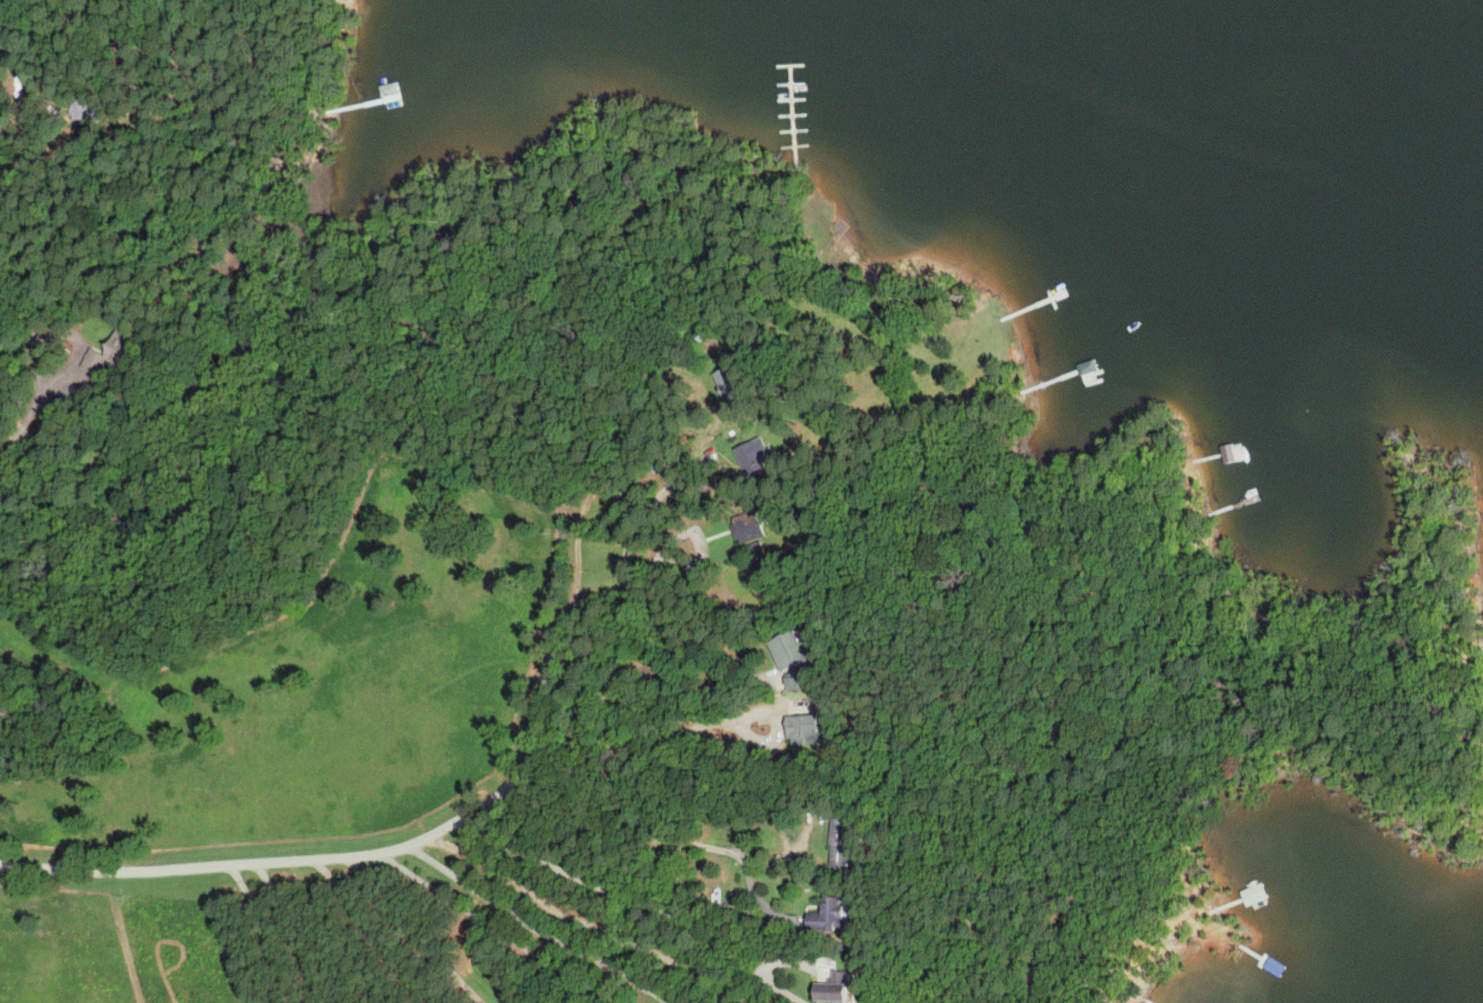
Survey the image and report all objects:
building: (78, 109)
building: (377, 109)
road: (8, 114)
building: (112, 352)
building: (728, 384)
road: (34, 414)
building: (745, 526)
building: (788, 649)
building: (796, 681)
road: (657, 694)
building: (805, 729)
road: (808, 828)
road: (681, 839)
building: (844, 843)
road: (361, 851)
building: (1267, 884)
road: (757, 895)
road: (655, 906)
building: (829, 915)
road: (493, 925)
road: (376, 928)
road: (414, 929)
road: (293, 932)
building: (830, 988)

